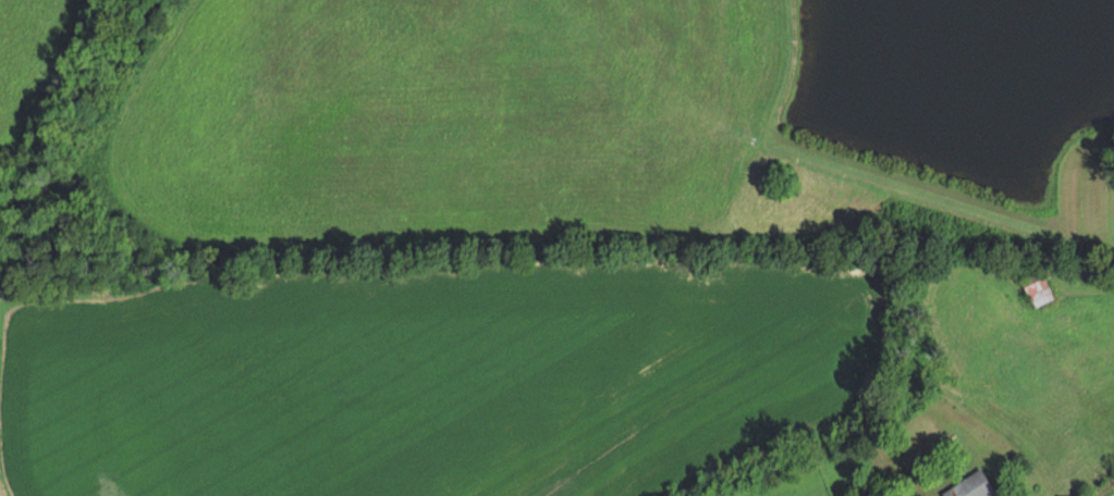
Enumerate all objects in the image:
building: (1035, 286)
building: (970, 486)

